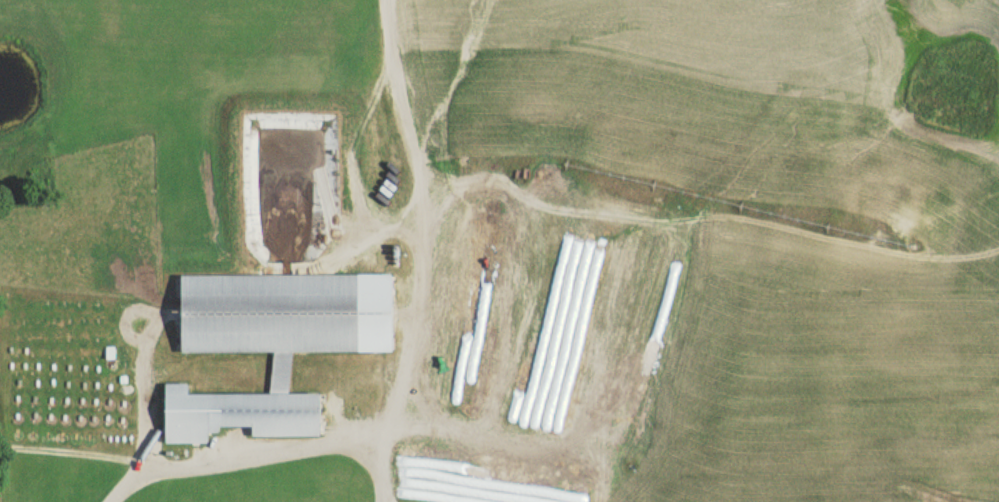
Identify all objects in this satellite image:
road: (392, 100)
road: (400, 349)
building: (254, 350)
road: (242, 449)

